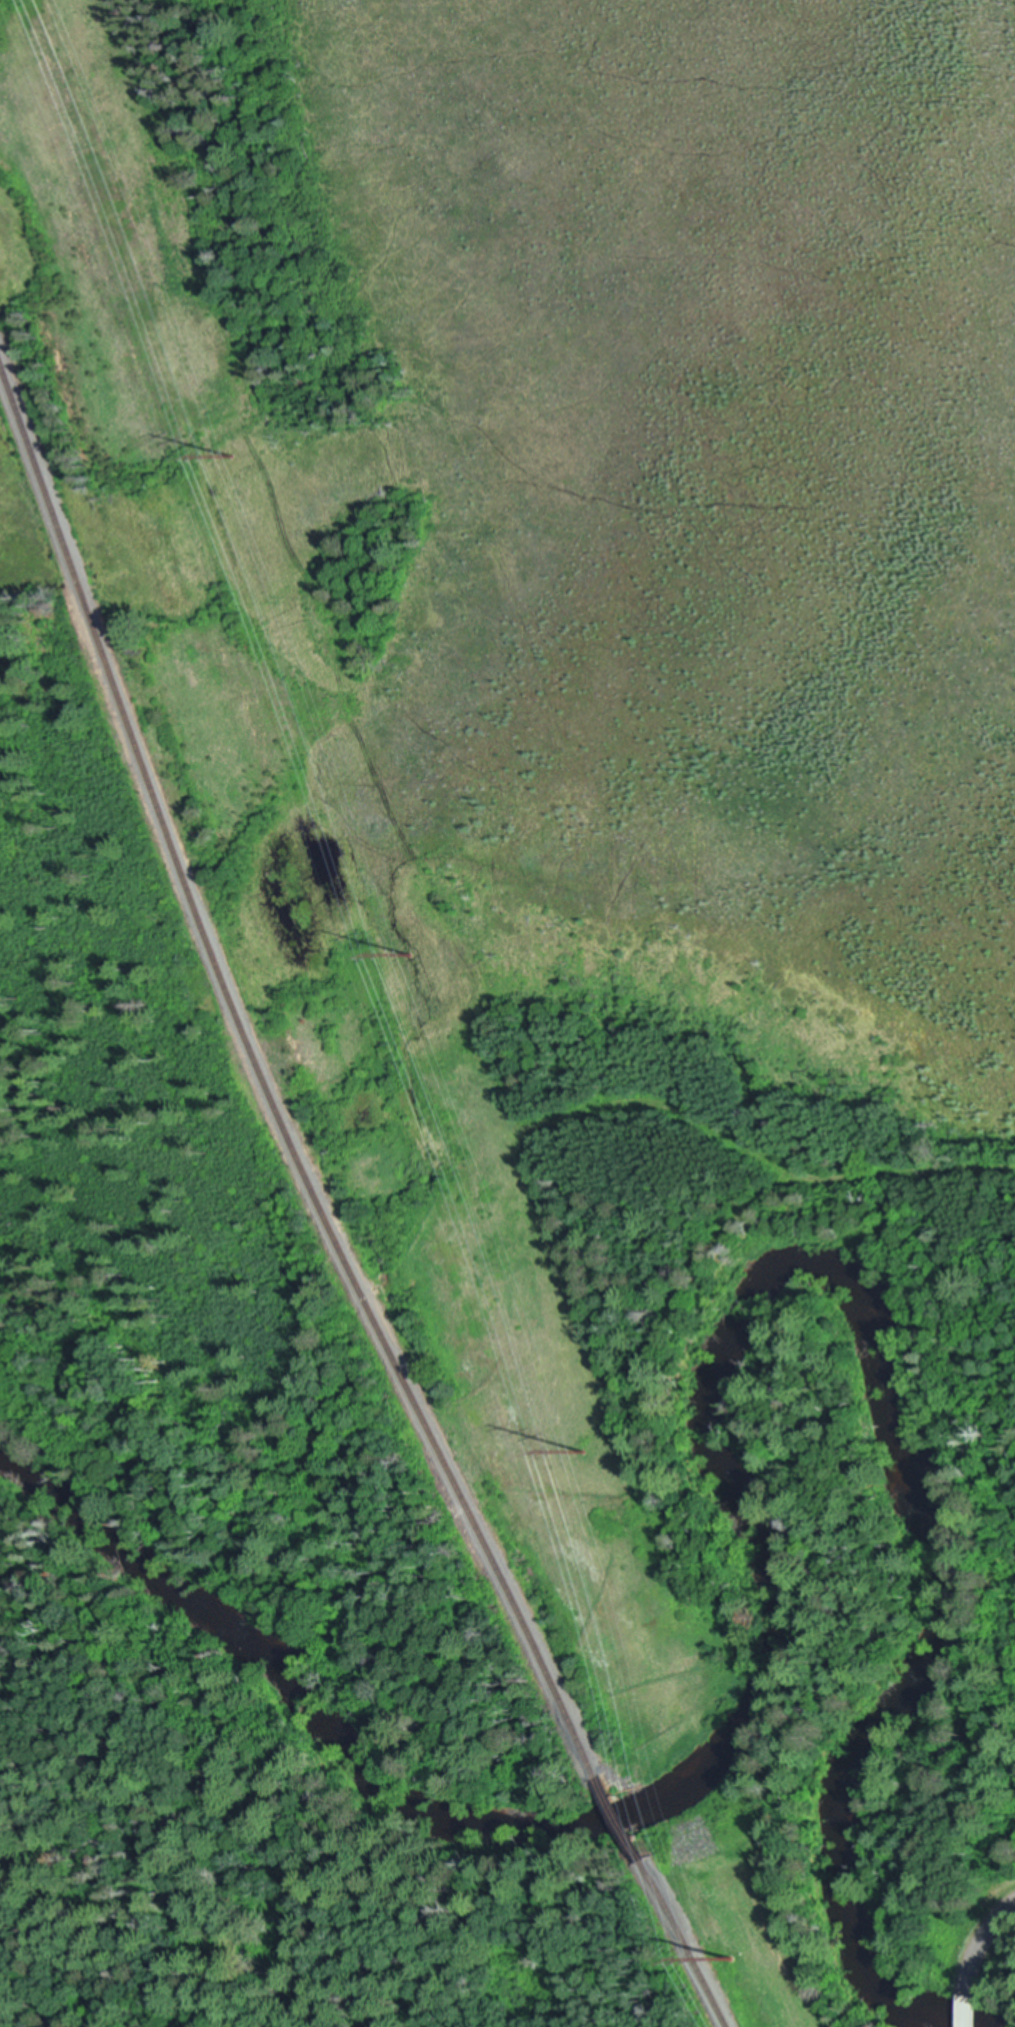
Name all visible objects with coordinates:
power tower: (230, 459)
power tower: (411, 957)
railway: (265, 1091)
power tower: (584, 1452)
river: (746, 1519)
railway: (624, 1823)
railway: (685, 1945)
road: (981, 1947)
power tower: (730, 1959)
road: (968, 2013)
building: (969, 2013)

